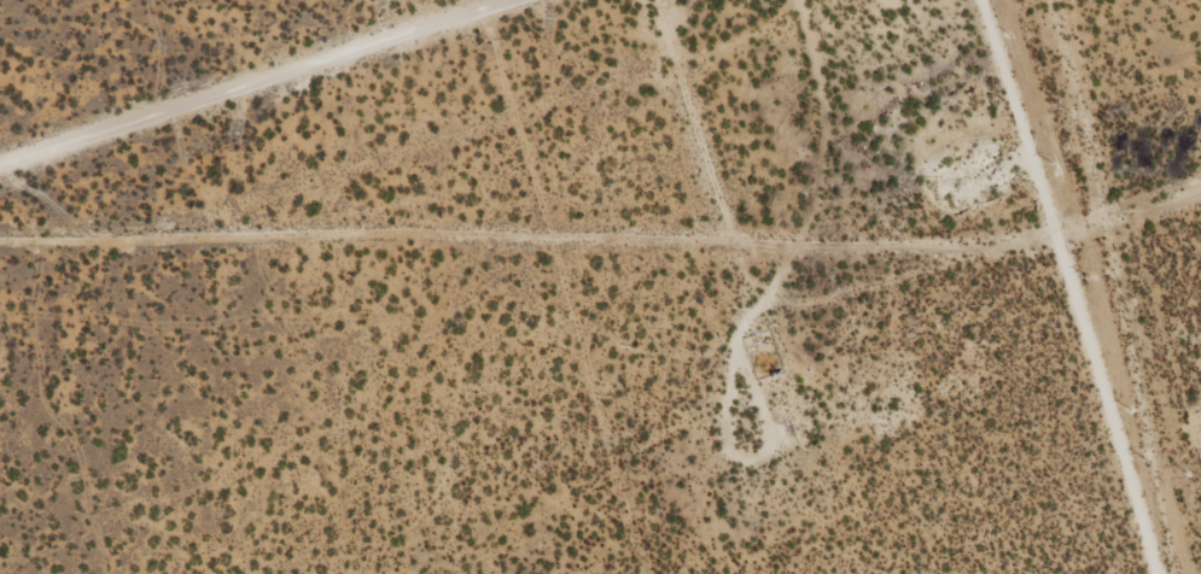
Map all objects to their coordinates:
road: (245, 78)
road: (792, 159)
road: (658, 178)

